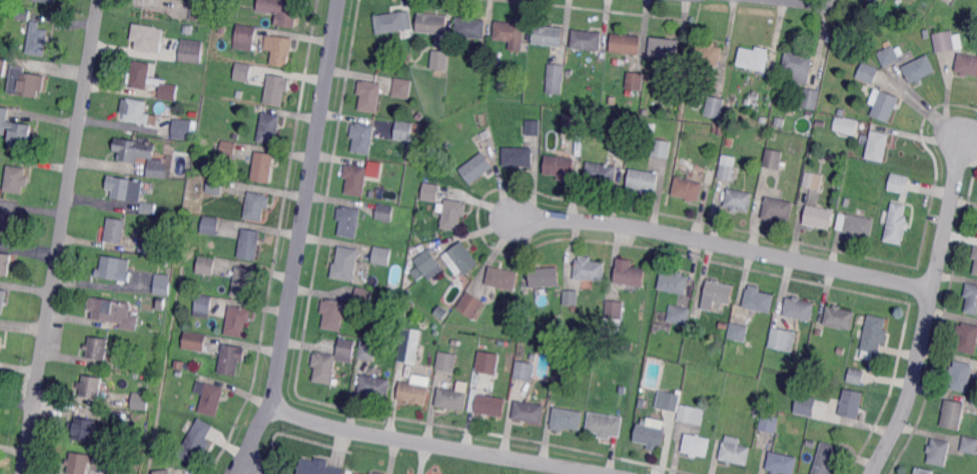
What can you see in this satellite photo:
building: (49, 1)
building: (949, 2)
road: (806, 3)
building: (283, 11)
building: (24, 13)
building: (200, 13)
building: (394, 21)
building: (433, 23)
building: (471, 27)
building: (223, 28)
building: (188, 30)
building: (924, 33)
building: (511, 34)
building: (548, 36)
building: (149, 38)
building: (245, 38)
building: (38, 39)
building: (587, 39)
building: (946, 41)
building: (626, 44)
building: (665, 48)
building: (280, 50)
building: (191, 52)
building: (709, 53)
building: (888, 54)
building: (754, 58)
building: (441, 60)
building: (617, 60)
building: (4, 65)
building: (799, 65)
building: (966, 66)
building: (920, 69)
building: (570, 70)
building: (244, 72)
building: (869, 72)
building: (556, 77)
building: (648, 77)
building: (151, 80)
building: (635, 80)
building: (672, 81)
building: (26, 82)
building: (401, 87)
building: (767, 87)
building: (276, 90)
building: (370, 95)
building: (813, 99)
building: (747, 100)
building: (884, 105)
building: (715, 106)
building: (138, 111)
building: (842, 111)
building: (811, 113)
building: (573, 122)
building: (820, 122)
building: (846, 125)
building: (652, 126)
building: (16, 128)
building: (185, 128)
building: (270, 128)
building: (533, 128)
building: (623, 128)
building: (404, 130)
building: (775, 135)
building: (363, 138)
building: (878, 146)
building: (229, 148)
building: (662, 148)
building: (141, 155)
building: (518, 156)
building: (823, 157)
building: (771, 159)
building: (560, 166)
building: (264, 167)
building: (477, 167)
building: (374, 168)
building: (713, 171)
building: (730, 173)
building: (602, 174)
building: (16, 179)
building: (356, 179)
building: (644, 180)
building: (814, 180)
building: (900, 181)
building: (216, 186)
building: (126, 188)
building: (688, 189)
building: (431, 192)
building: (371, 194)
building: (739, 200)
building: (846, 201)
building: (258, 206)
building: (149, 208)
building: (778, 209)
building: (385, 212)
building: (454, 214)
building: (819, 217)
building: (349, 220)
building: (9, 222)
building: (898, 222)
building: (856, 224)
building: (211, 225)
building: (116, 230)
road: (61, 236)
road: (300, 239)
building: (249, 244)
building: (148, 245)
road: (725, 245)
building: (164, 252)
building: (975, 252)
building: (382, 255)
building: (461, 258)
building: (428, 261)
building: (166, 262)
building: (5, 263)
building: (346, 264)
building: (205, 266)
building: (115, 268)
building: (590, 269)
building: (976, 269)
building: (415, 273)
building: (630, 275)
building: (545, 277)
building: (503, 278)
building: (674, 282)
building: (163, 283)
building: (244, 283)
building: (717, 294)
building: (364, 296)
building: (571, 297)
building: (971, 298)
building: (759, 299)
building: (3, 300)
building: (162, 303)
building: (471, 305)
building: (202, 306)
building: (615, 309)
building: (799, 309)
road: (927, 310)
building: (115, 313)
building: (333, 313)
building: (679, 314)
building: (839, 317)
building: (238, 320)
building: (725, 323)
building: (739, 332)
building: (412, 336)
building: (874, 336)
building: (436, 337)
building: (967, 337)
building: (781, 338)
building: (194, 341)
building: (1, 342)
building: (97, 348)
building: (343, 349)
building: (368, 350)
building: (840, 351)
building: (409, 352)
building: (533, 355)
building: (231, 358)
building: (447, 361)
building: (488, 361)
building: (125, 364)
building: (180, 365)
building: (321, 367)
building: (525, 370)
building: (150, 371)
building: (180, 373)
building: (597, 376)
building: (855, 376)
building: (961, 376)
building: (558, 377)
building: (91, 386)
building: (375, 386)
building: (413, 392)
building: (210, 398)
building: (453, 399)
building: (141, 401)
building: (669, 401)
building: (851, 403)
building: (487, 404)
building: (806, 405)
building: (757, 411)
building: (530, 412)
building: (692, 414)
building: (953, 414)
building: (116, 415)
building: (567, 419)
building: (769, 423)
building: (605, 424)
building: (84, 429)
building: (651, 436)
building: (196, 442)
building: (811, 443)
road: (434, 445)
building: (696, 445)
building: (969, 445)
building: (735, 451)
building: (939, 451)
building: (827, 459)
building: (80, 463)
building: (782, 463)
building: (318, 467)
building: (162, 471)
building: (923, 471)
building: (357, 473)
building: (377, 473)

